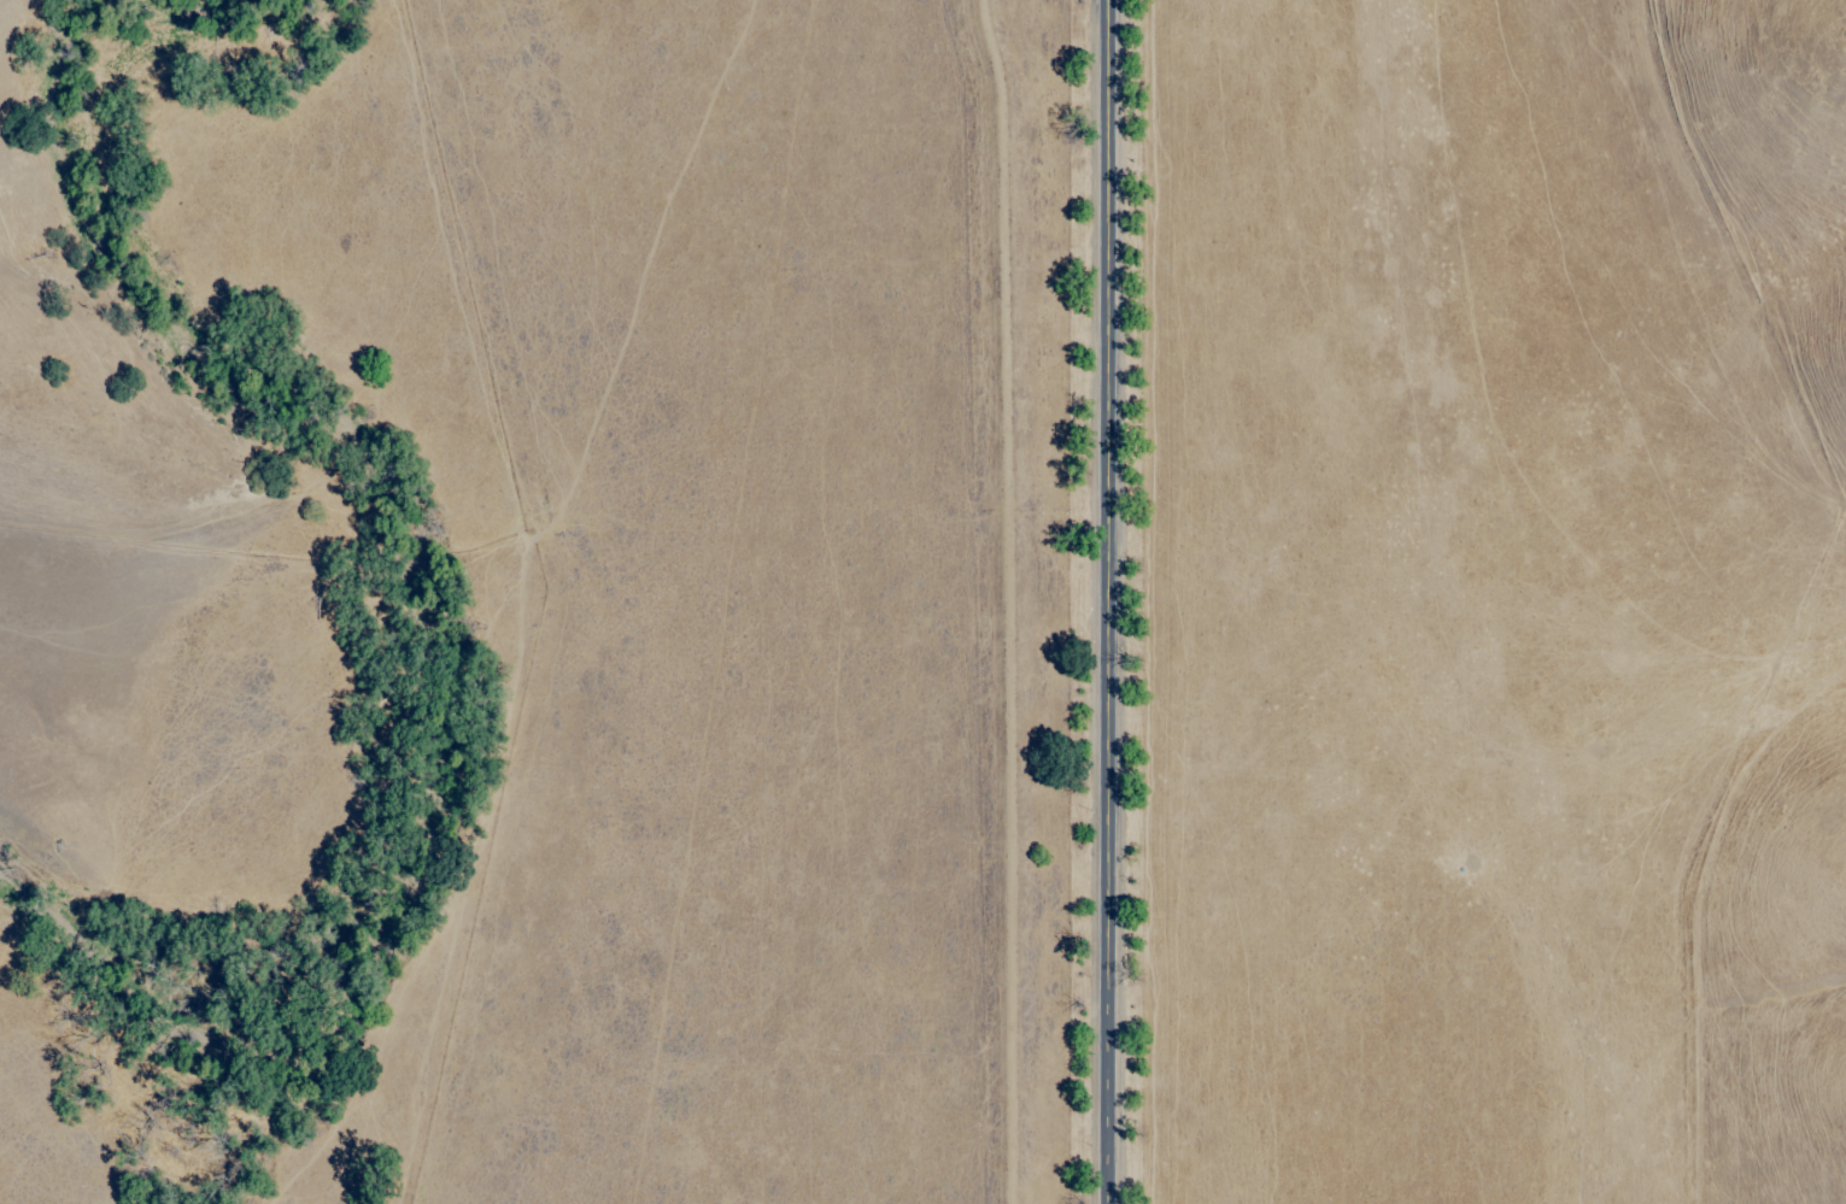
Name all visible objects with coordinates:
park: (1776, 186)
park: (18, 592)
road: (1108, 601)
road: (1709, 899)
park: (1788, 1002)

